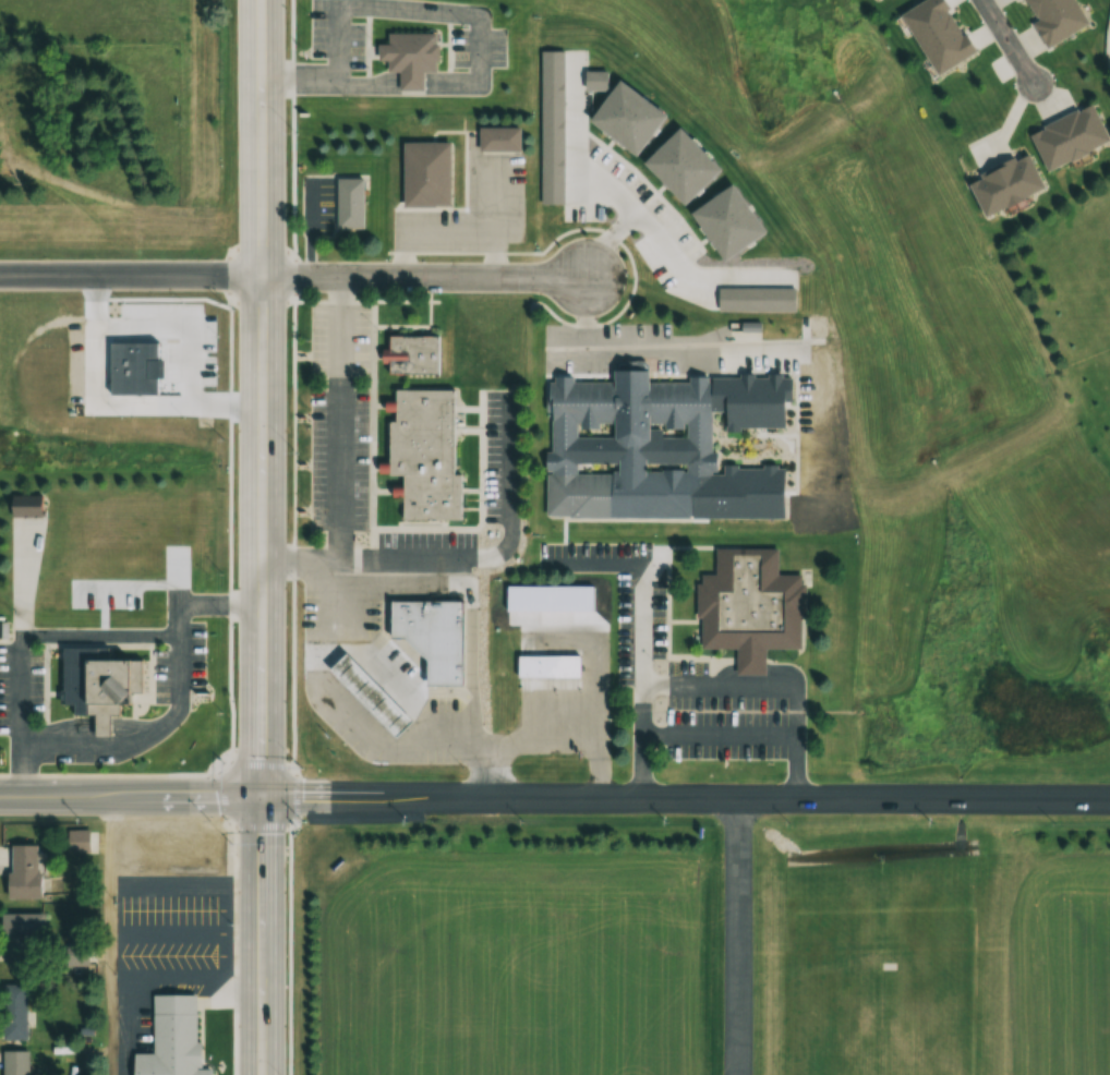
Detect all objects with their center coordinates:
building: (1053, 19)
building: (934, 34)
road: (1010, 40)
building: (407, 57)
building: (19, 111)
building: (1067, 136)
road: (261, 137)
building: (499, 141)
building: (427, 173)
road: (586, 179)
building: (1003, 184)
building: (349, 202)
road: (126, 203)
road: (303, 228)
road: (693, 273)
road: (116, 276)
road: (246, 276)
road: (420, 277)
park: (1070, 295)
road: (579, 315)
road: (664, 351)
building: (414, 354)
road: (333, 416)
building: (629, 448)
building: (426, 452)
road: (463, 556)
road: (642, 571)
street lamp: (301, 582)
street lamp: (288, 583)
road: (464, 596)
building: (748, 603)
building: (422, 635)
road: (36, 636)
building: (546, 667)
road: (262, 675)
building: (436, 680)
building: (93, 681)
road: (375, 681)
road: (777, 681)
building: (361, 702)
gas station: (361, 702)
road: (340, 717)
road: (164, 724)
road: (717, 730)
road: (641, 739)
road: (545, 740)
street lamp: (461, 764)
road: (117, 775)
road: (130, 797)
traffic signals: (262, 798)
road: (685, 799)
street lamp: (666, 818)
street lamp: (408, 820)
street lamp: (931, 820)
building: (76, 841)
building: (20, 871)
building: (20, 934)
road: (108, 935)
road: (735, 937)
building: (73, 950)
street lamp: (289, 952)
building: (12, 1011)
building: (170, 1038)
building: (13, 1062)

